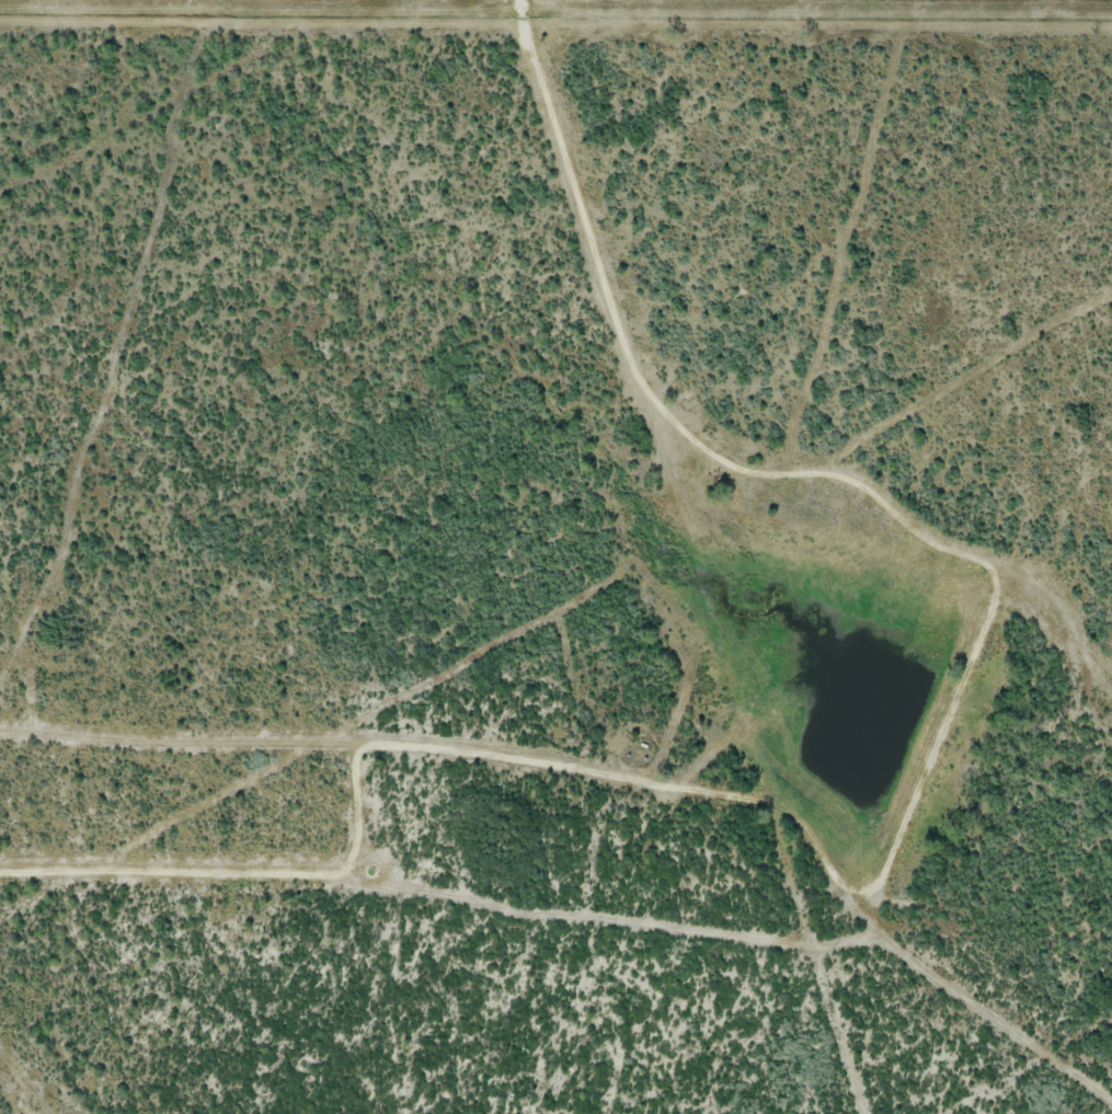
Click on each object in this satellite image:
road: (901, 837)

